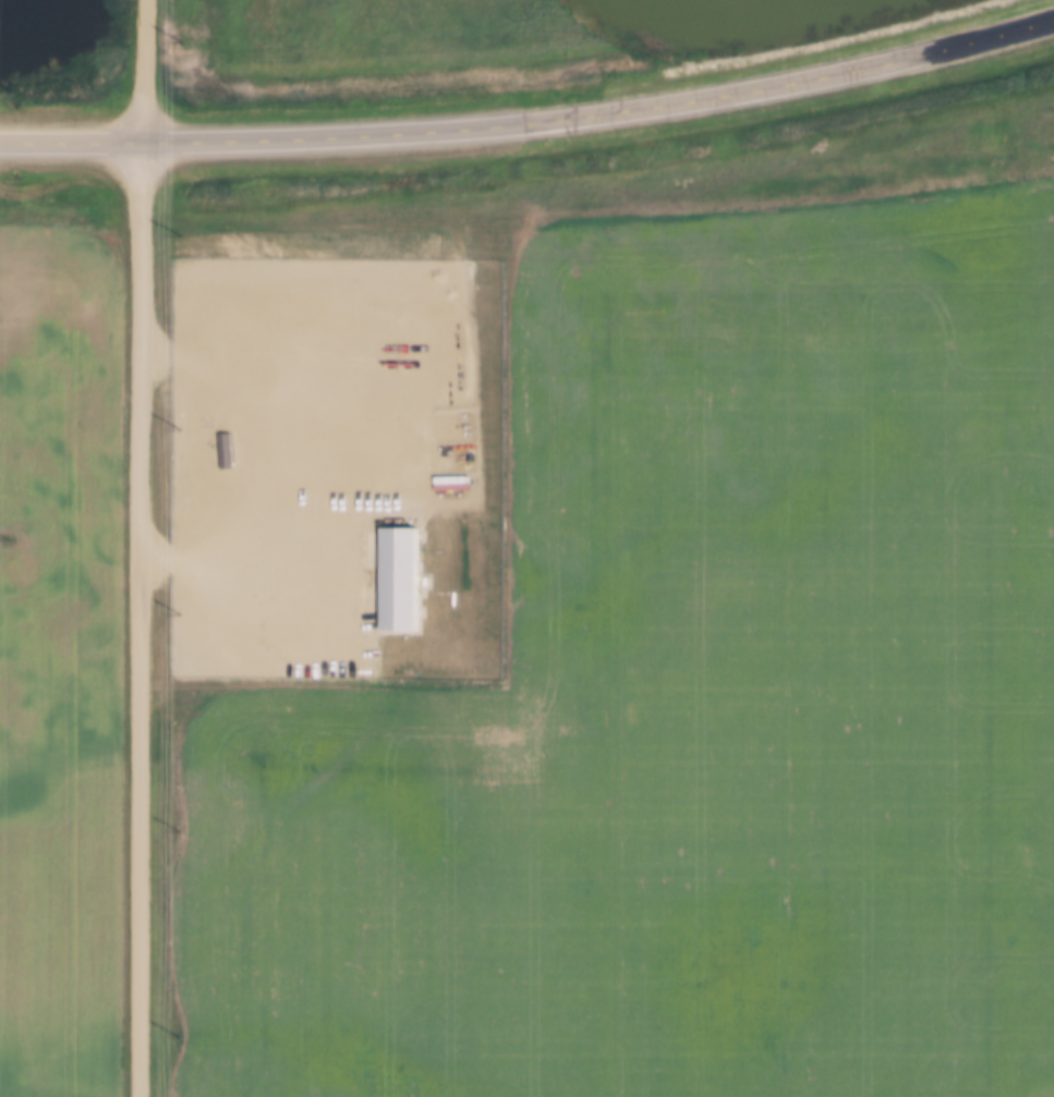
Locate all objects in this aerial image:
road: (531, 121)
road: (141, 548)
building: (402, 582)

